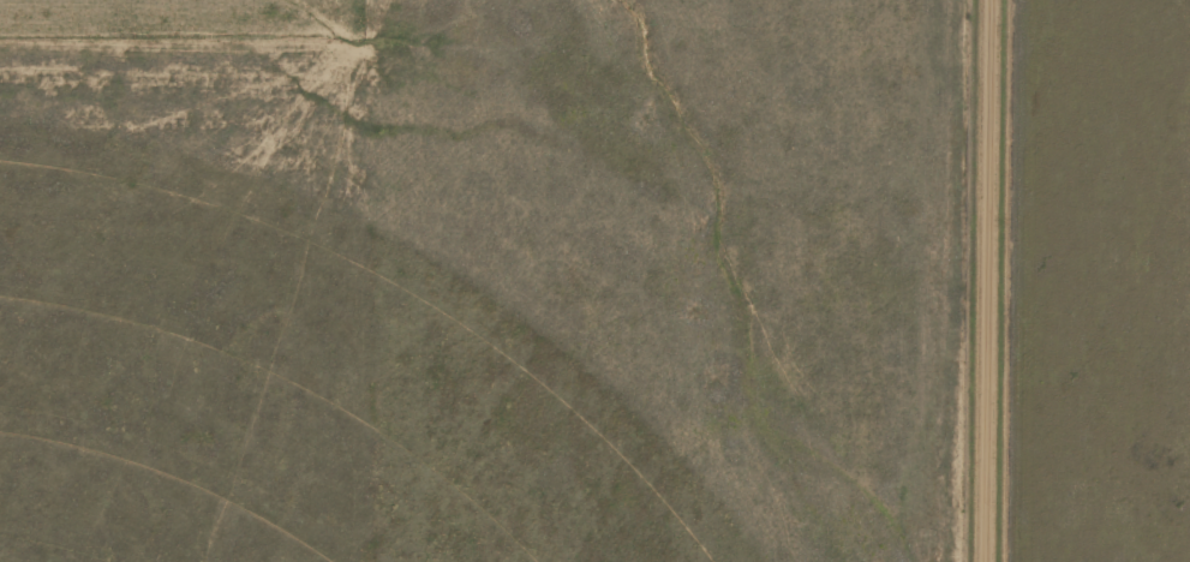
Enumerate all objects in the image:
road: (994, 281)

